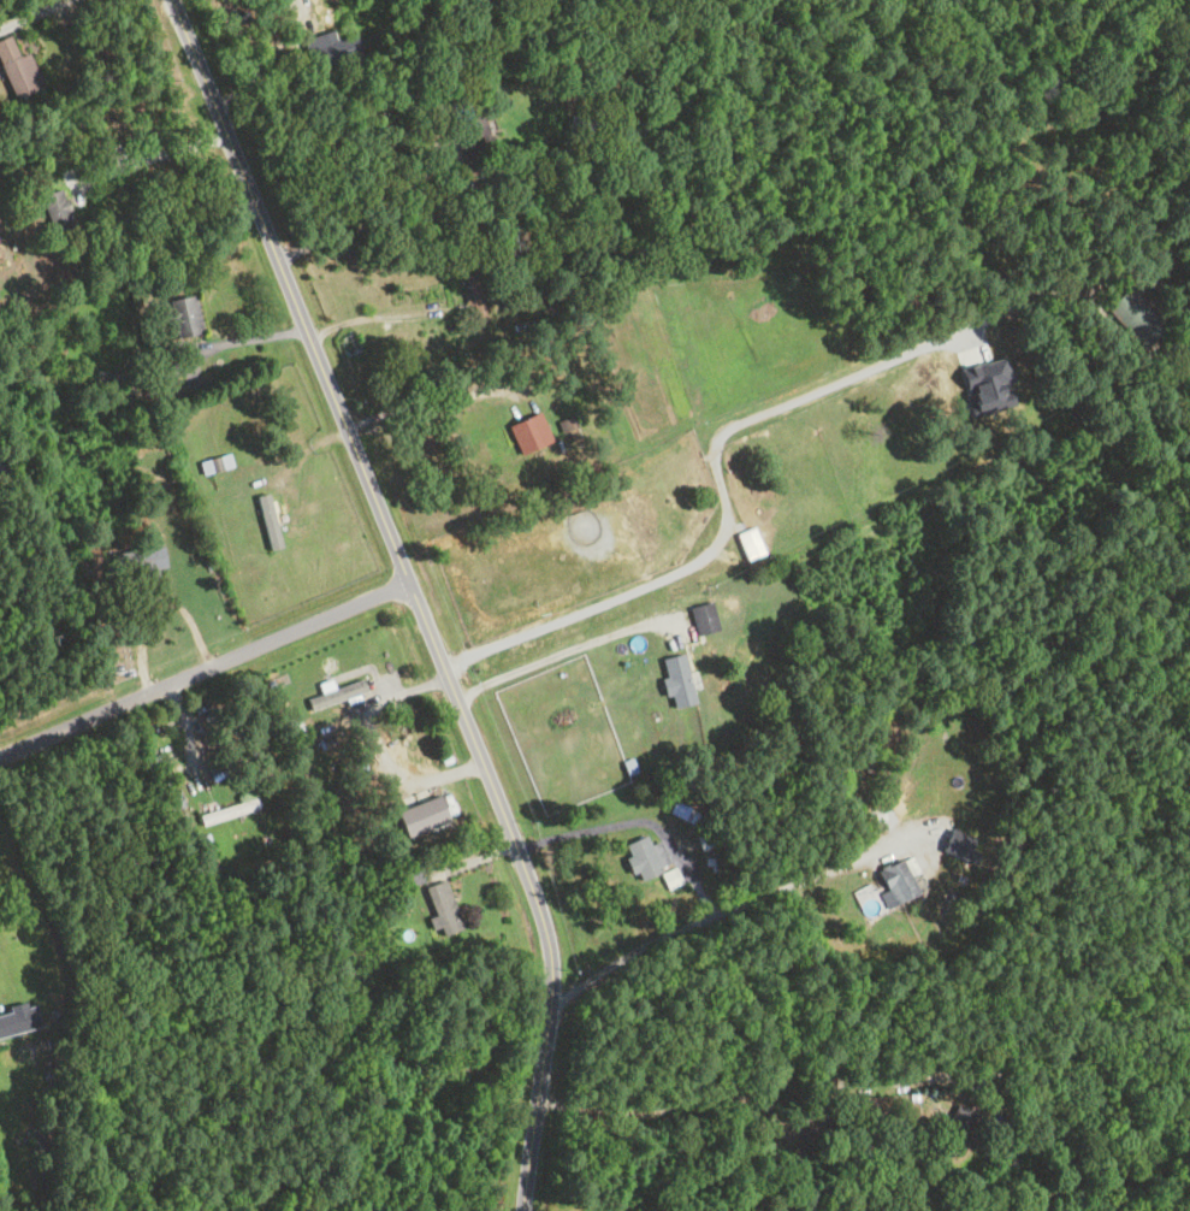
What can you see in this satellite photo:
road: (26, 12)
building: (331, 49)
building: (17, 72)
building: (578, 125)
road: (147, 148)
building: (55, 211)
road: (379, 218)
building: (180, 313)
building: (1135, 315)
road: (233, 341)
road: (427, 398)
building: (527, 431)
road: (715, 448)
building: (266, 522)
building: (747, 542)
building: (137, 561)
road: (414, 595)
building: (701, 618)
road: (556, 654)
road: (205, 669)
building: (674, 679)
building: (342, 693)
road: (603, 826)
building: (955, 843)
building: (647, 861)
building: (405, 876)
building: (894, 880)
building: (442, 906)
road: (724, 909)
building: (16, 1052)
road: (739, 1093)
building: (953, 1130)

